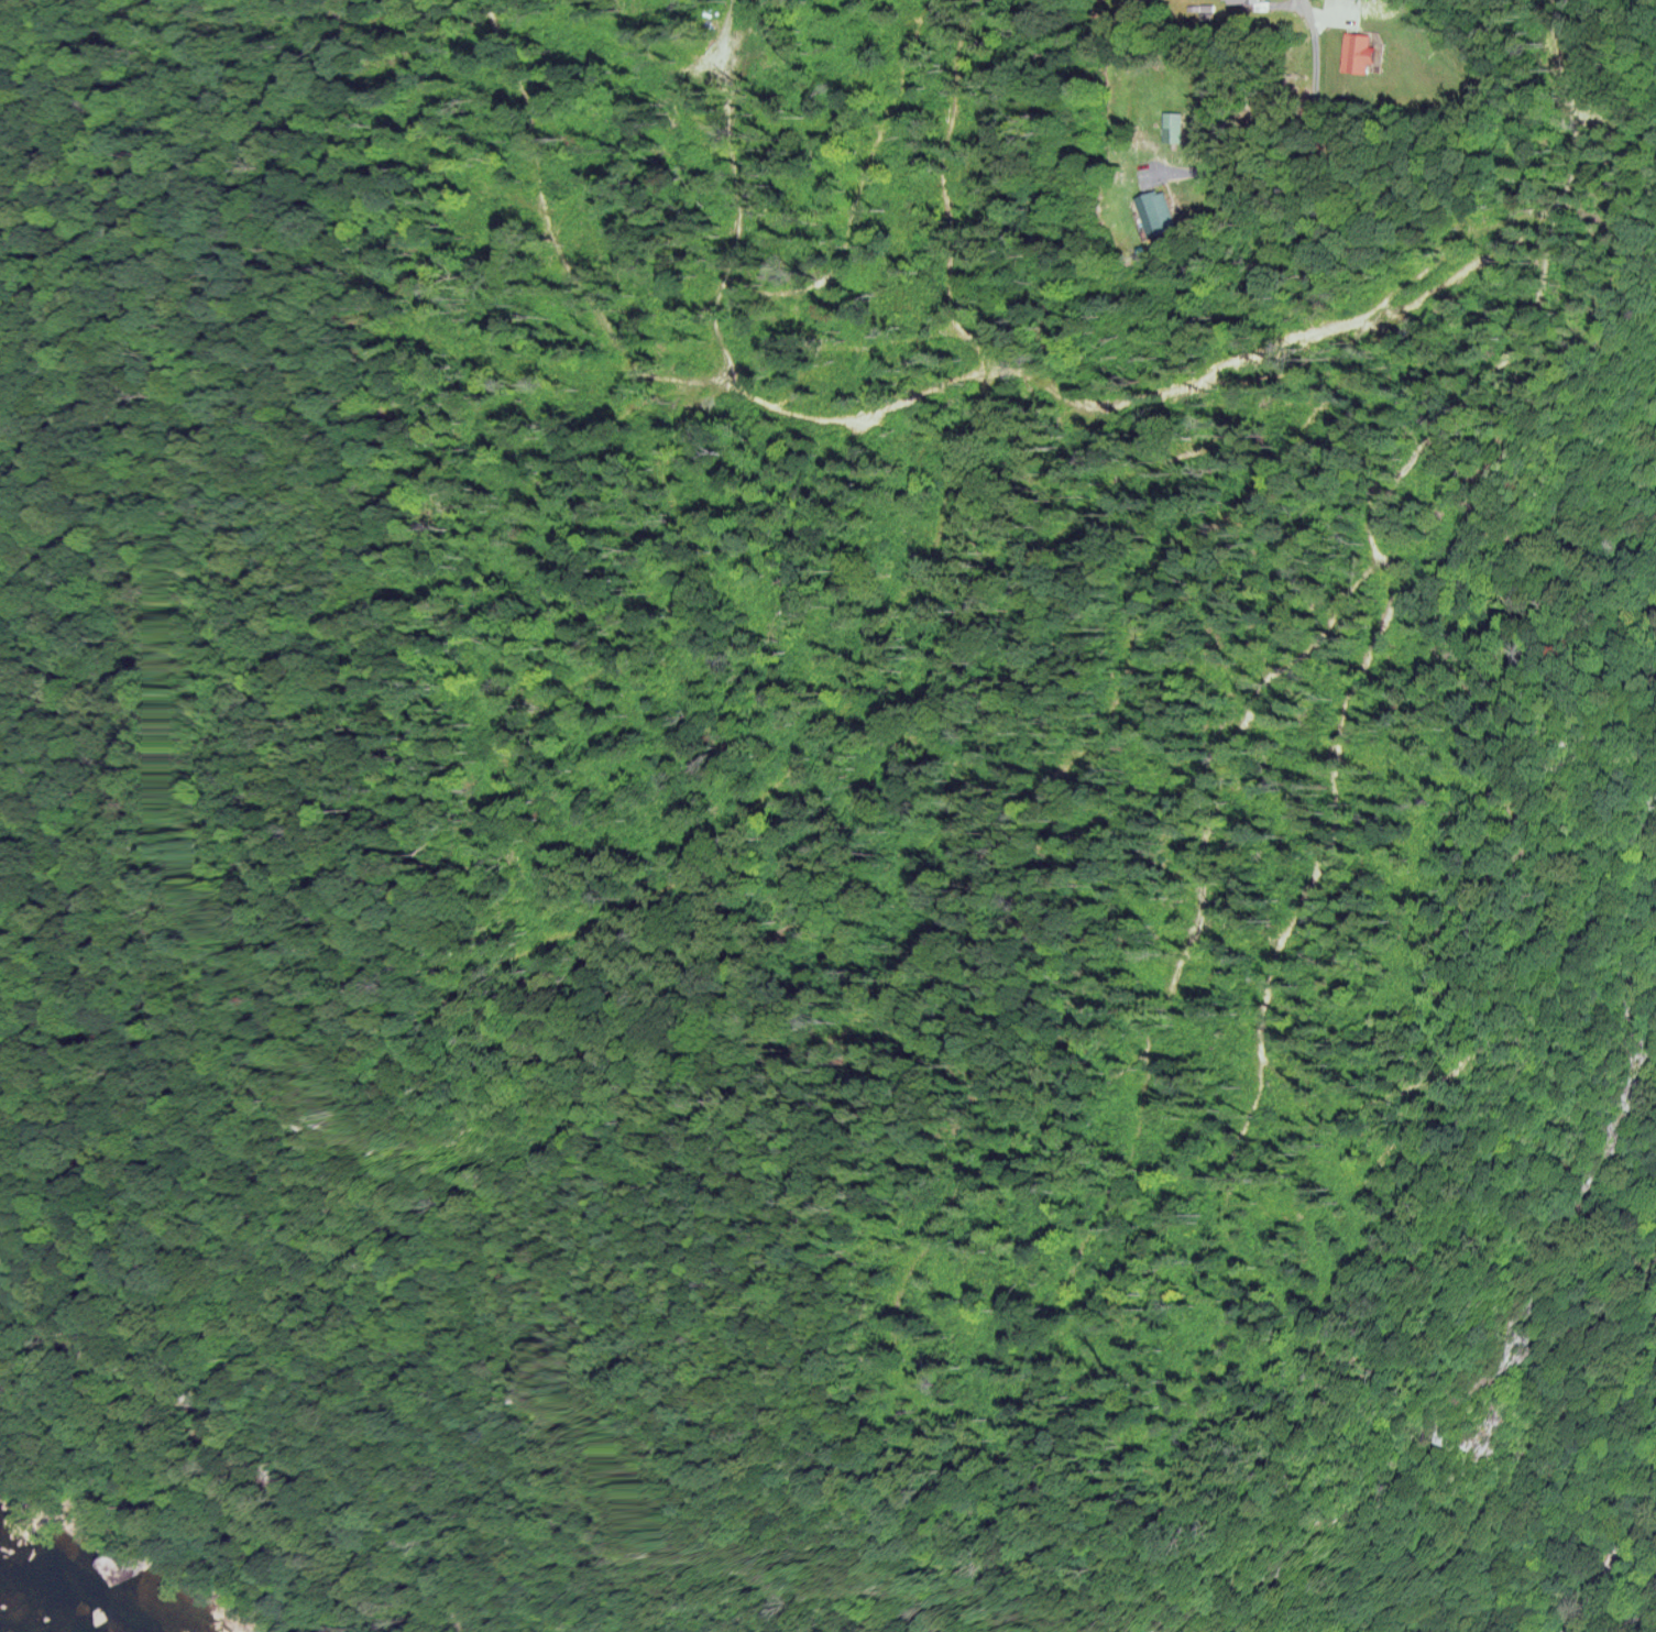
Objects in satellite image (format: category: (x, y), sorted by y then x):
building: (1361, 52)
road: (1290, 130)
building: (1158, 213)
road: (238, 1457)
road: (1603, 1558)
river: (2, 1630)

